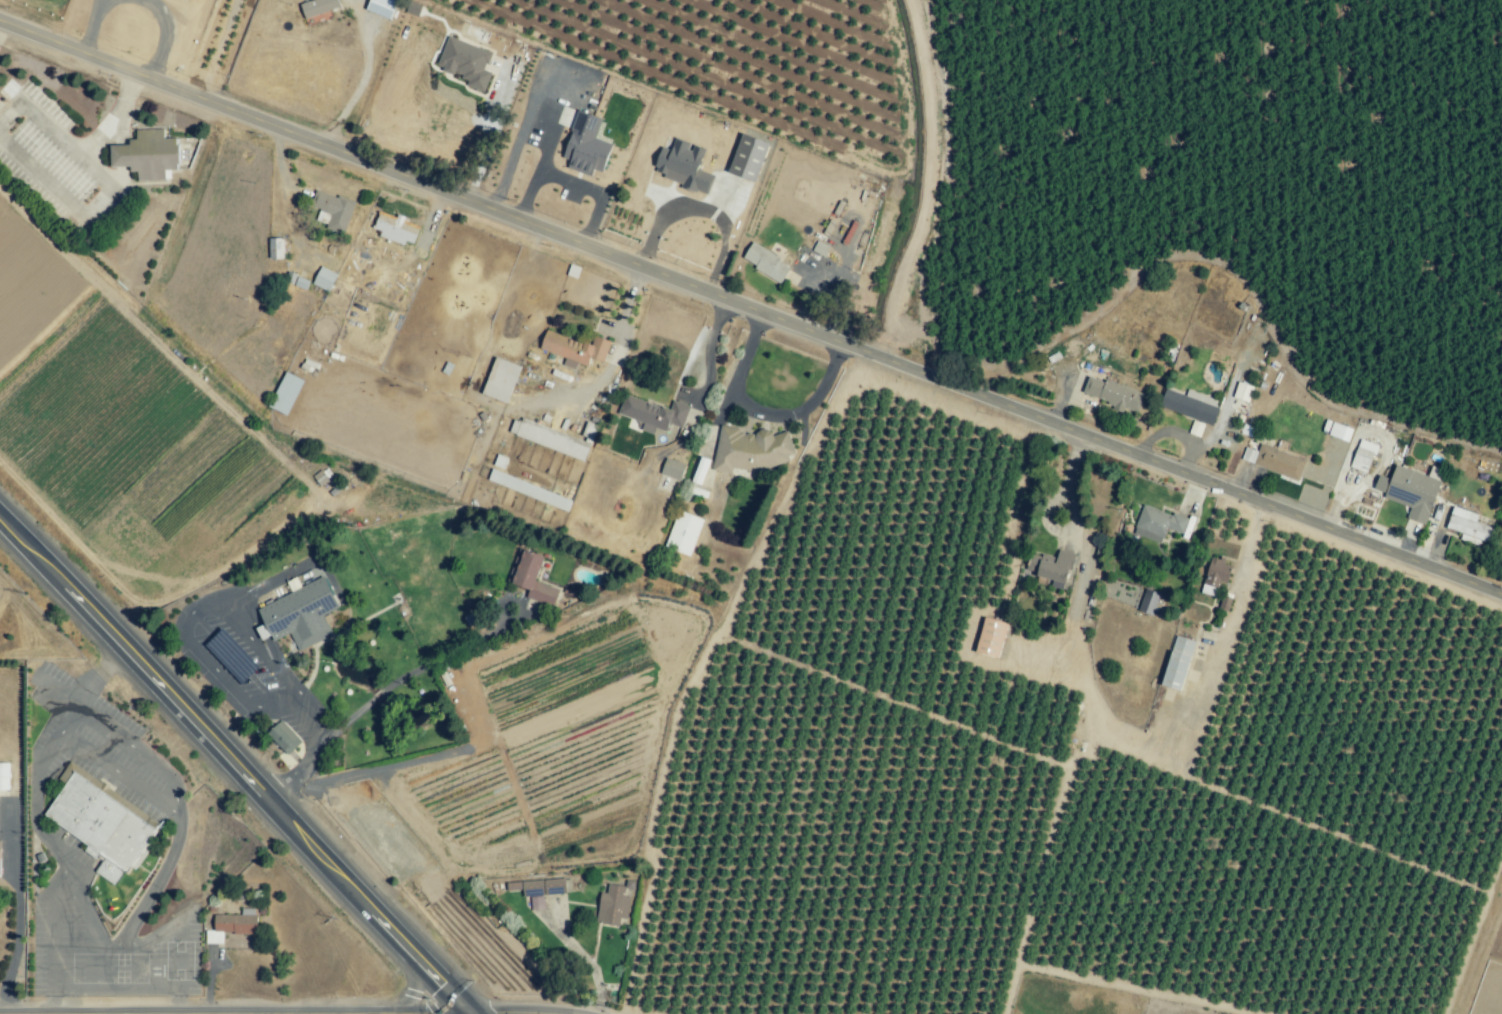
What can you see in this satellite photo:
building: (318, 7)
building: (382, 7)
road: (218, 46)
building: (466, 62)
road: (365, 75)
road: (492, 133)
road: (518, 143)
building: (586, 145)
building: (147, 155)
building: (748, 157)
building: (682, 166)
road: (572, 181)
building: (333, 210)
building: (395, 229)
building: (275, 248)
building: (820, 249)
building: (766, 263)
building: (324, 279)
building: (301, 283)
road: (751, 304)
road: (628, 311)
building: (574, 349)
road: (709, 354)
building: (501, 380)
building: (1242, 392)
building: (286, 393)
building: (1113, 394)
building: (1190, 405)
road: (761, 413)
building: (654, 414)
building: (1195, 428)
building: (1339, 432)
building: (553, 438)
building: (750, 450)
building: (1249, 455)
building: (1363, 456)
building: (1279, 462)
building: (672, 469)
building: (700, 470)
crop: (109, 474)
building: (507, 481)
building: (1381, 483)
building: (553, 499)
crop: (896, 499)
building: (1157, 523)
building: (1468, 526)
building: (683, 533)
building: (1052, 567)
building: (1215, 576)
building: (531, 578)
building: (1148, 602)
building: (302, 615)
building: (991, 637)
parking lot: (245, 661)
building: (1177, 663)
road: (407, 675)
road: (96, 679)
road: (298, 710)
railway: (275, 723)
road: (1108, 734)
building: (284, 737)
road: (233, 772)
building: (3, 776)
road: (33, 799)
road: (177, 808)
building: (101, 822)
building: (0, 849)
building: (540, 890)
building: (613, 906)
road: (18, 909)
road: (86, 917)
building: (232, 925)
road: (50, 937)
road: (137, 967)
road: (176, 984)
road: (412, 985)
traffic signals: (442, 987)
road: (50, 1002)
road: (176, 1002)
road: (457, 1013)
road: (485, 1013)
traffic signals: (504, 1013)

